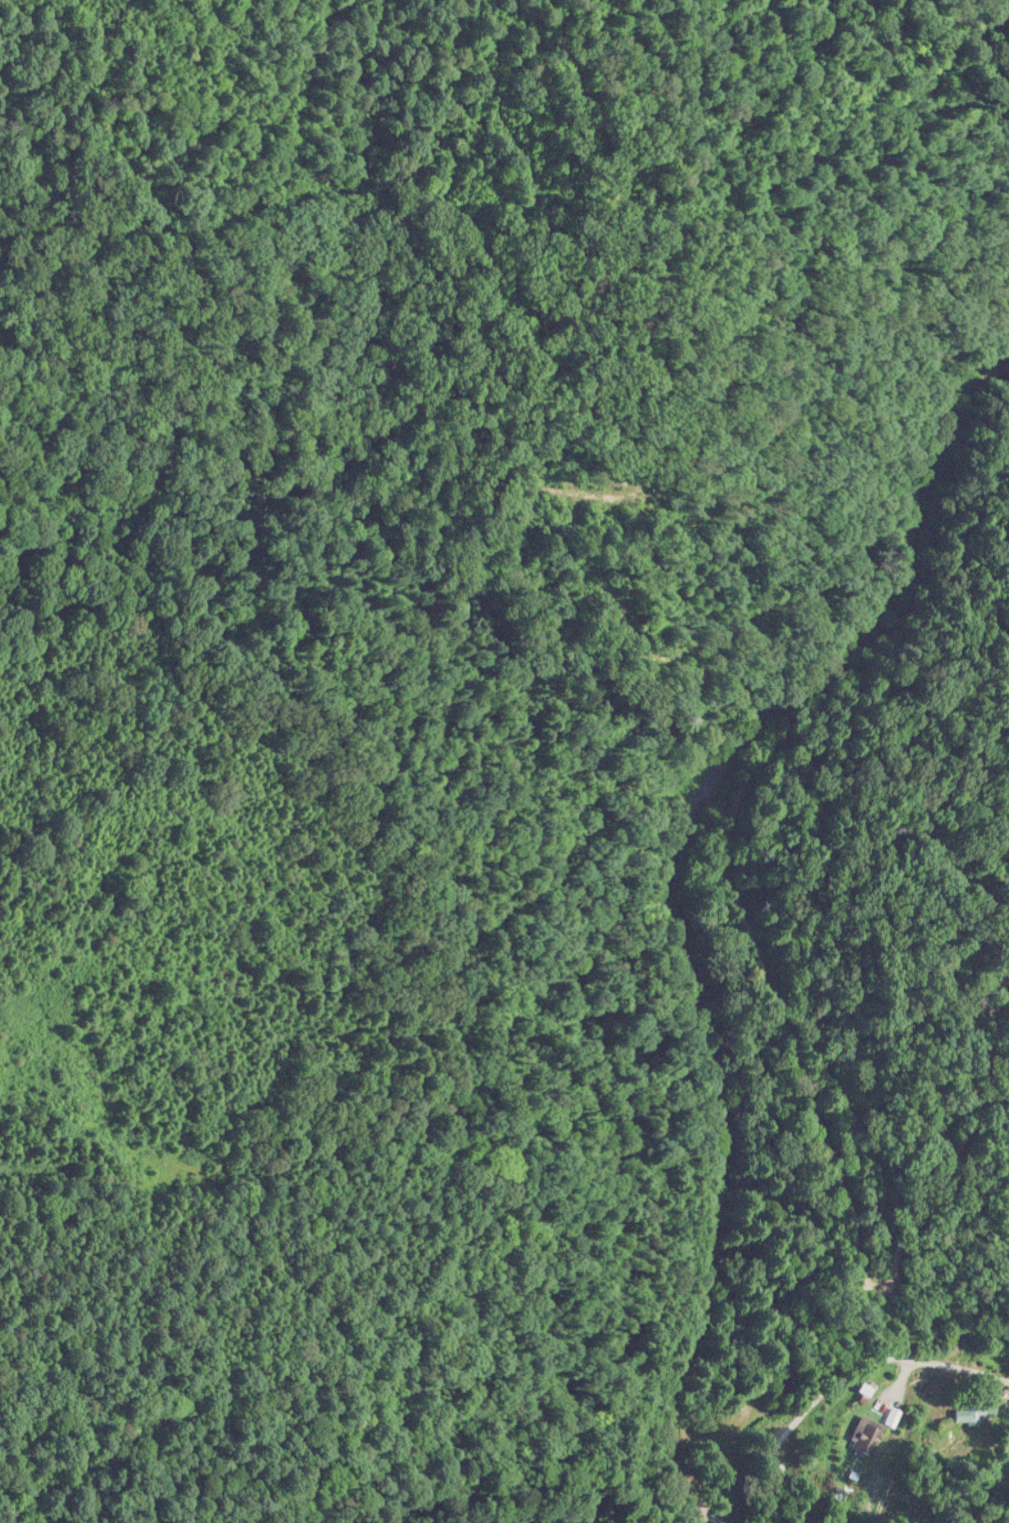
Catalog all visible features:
road: (667, 877)
road: (846, 1220)
road: (844, 1382)
road: (900, 1384)
building: (971, 1412)
building: (864, 1432)
road: (701, 1517)

